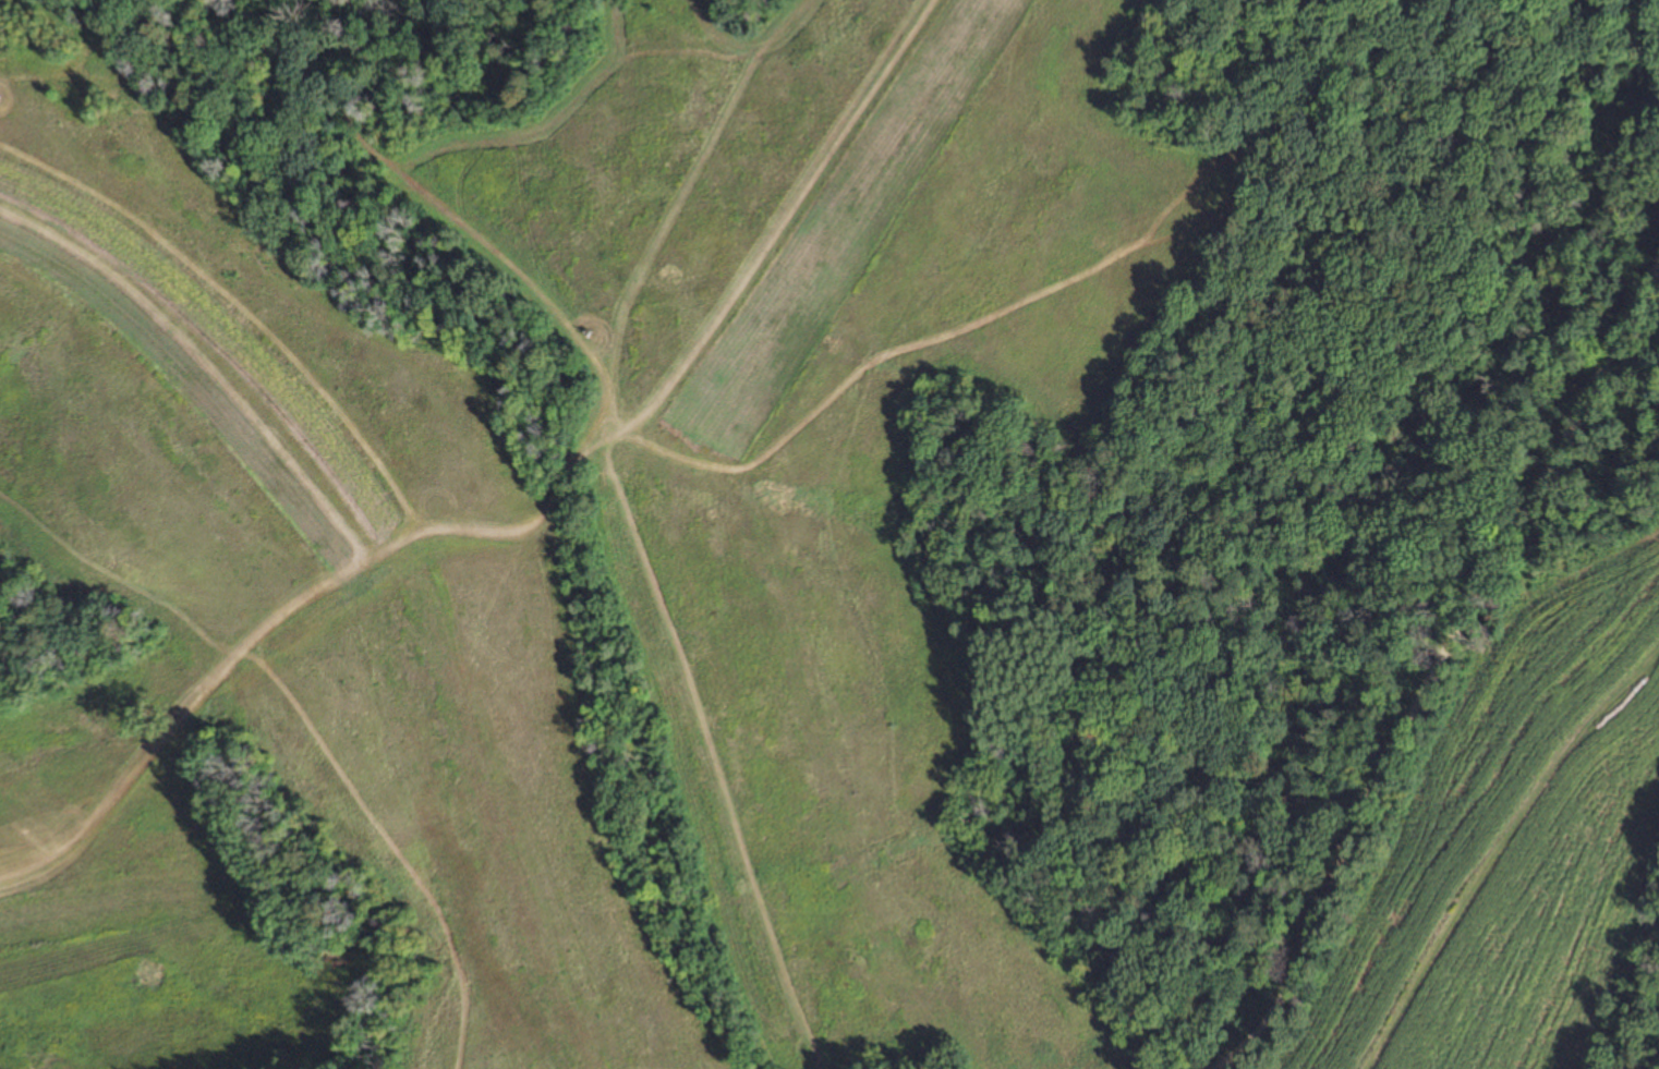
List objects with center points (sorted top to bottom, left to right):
road: (1457, 708)

